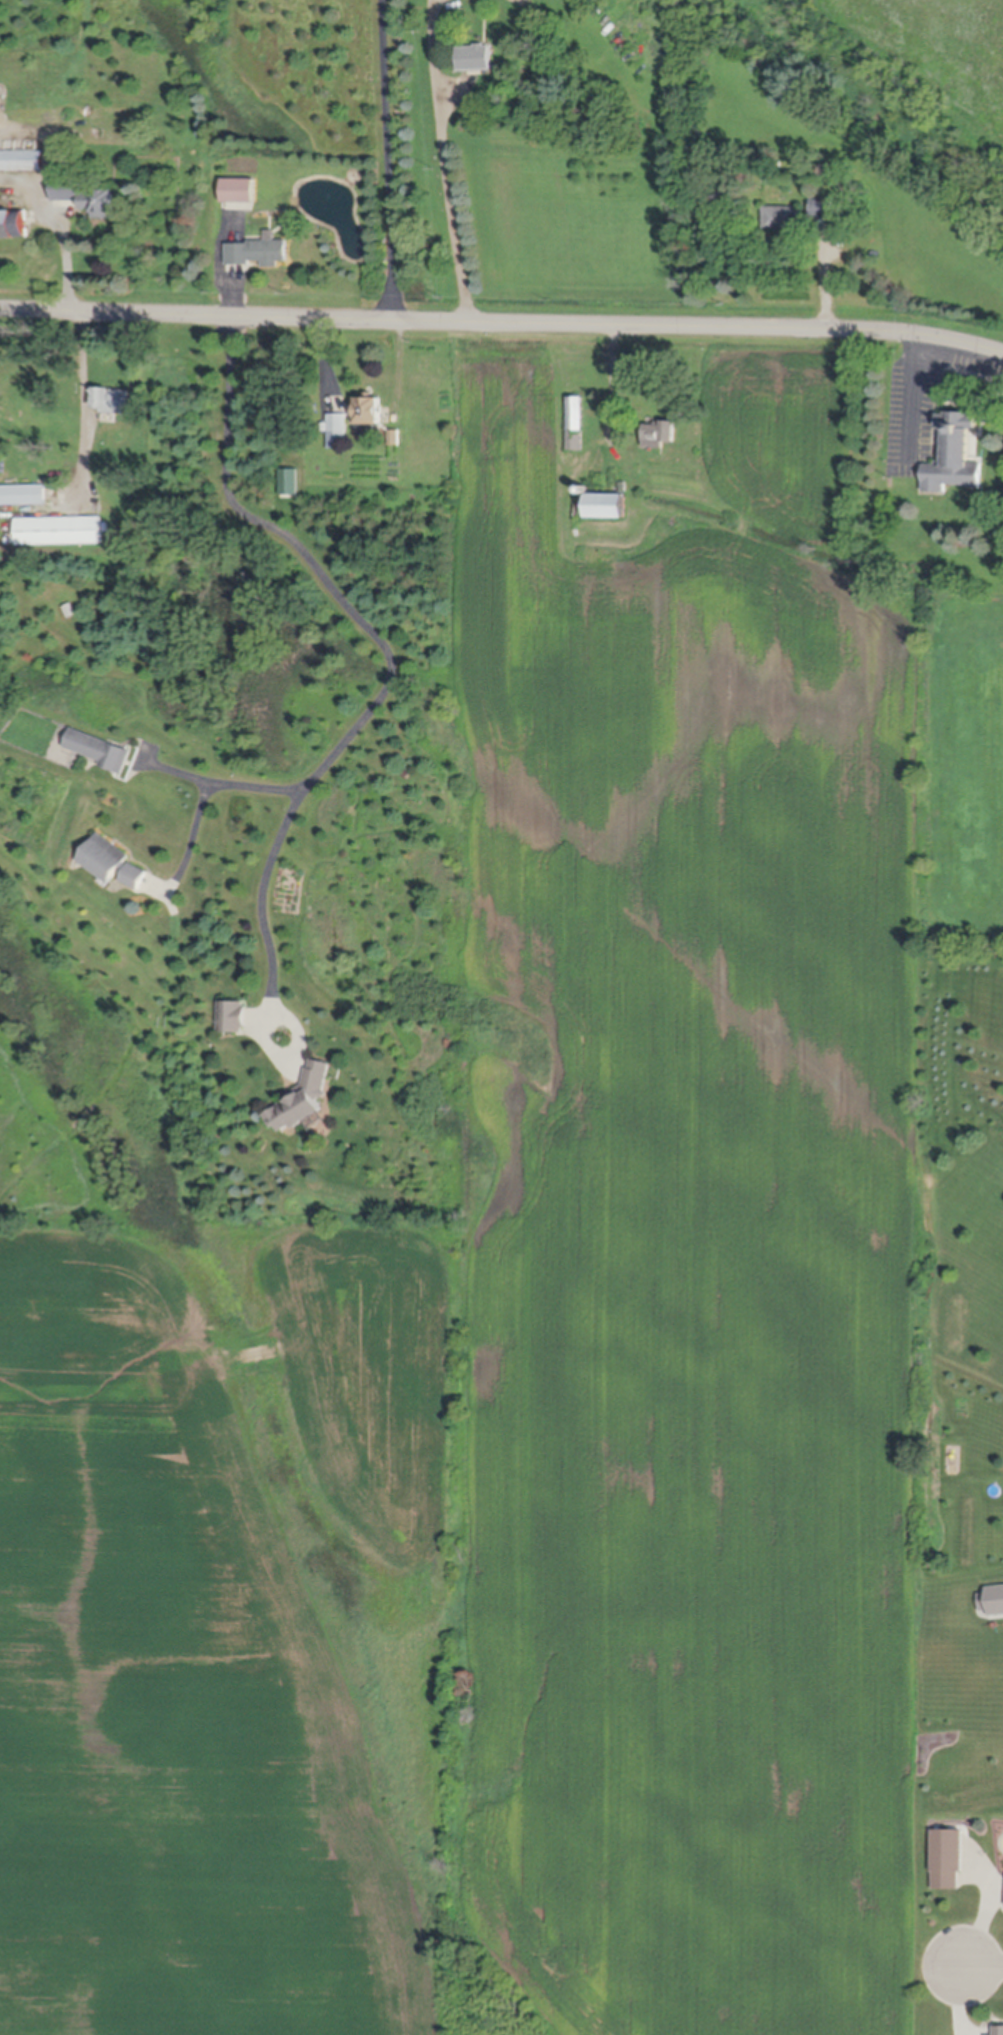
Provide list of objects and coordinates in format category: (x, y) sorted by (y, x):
building: (476, 55)
building: (21, 159)
road: (389, 159)
road: (447, 160)
building: (90, 162)
building: (237, 189)
building: (85, 194)
building: (823, 205)
building: (782, 216)
building: (12, 222)
building: (258, 250)
road: (502, 321)
road: (912, 392)
building: (112, 399)
building: (368, 412)
road: (85, 414)
building: (575, 422)
building: (337, 430)
building: (661, 432)
building: (394, 436)
building: (955, 454)
building: (622, 487)
building: (583, 488)
building: (22, 494)
building: (607, 505)
building: (58, 530)
road: (390, 660)
building: (100, 750)
road: (205, 794)
building: (114, 862)
building: (235, 1017)
building: (305, 1099)
building: (947, 1859)
road: (984, 1968)
building: (999, 2032)

